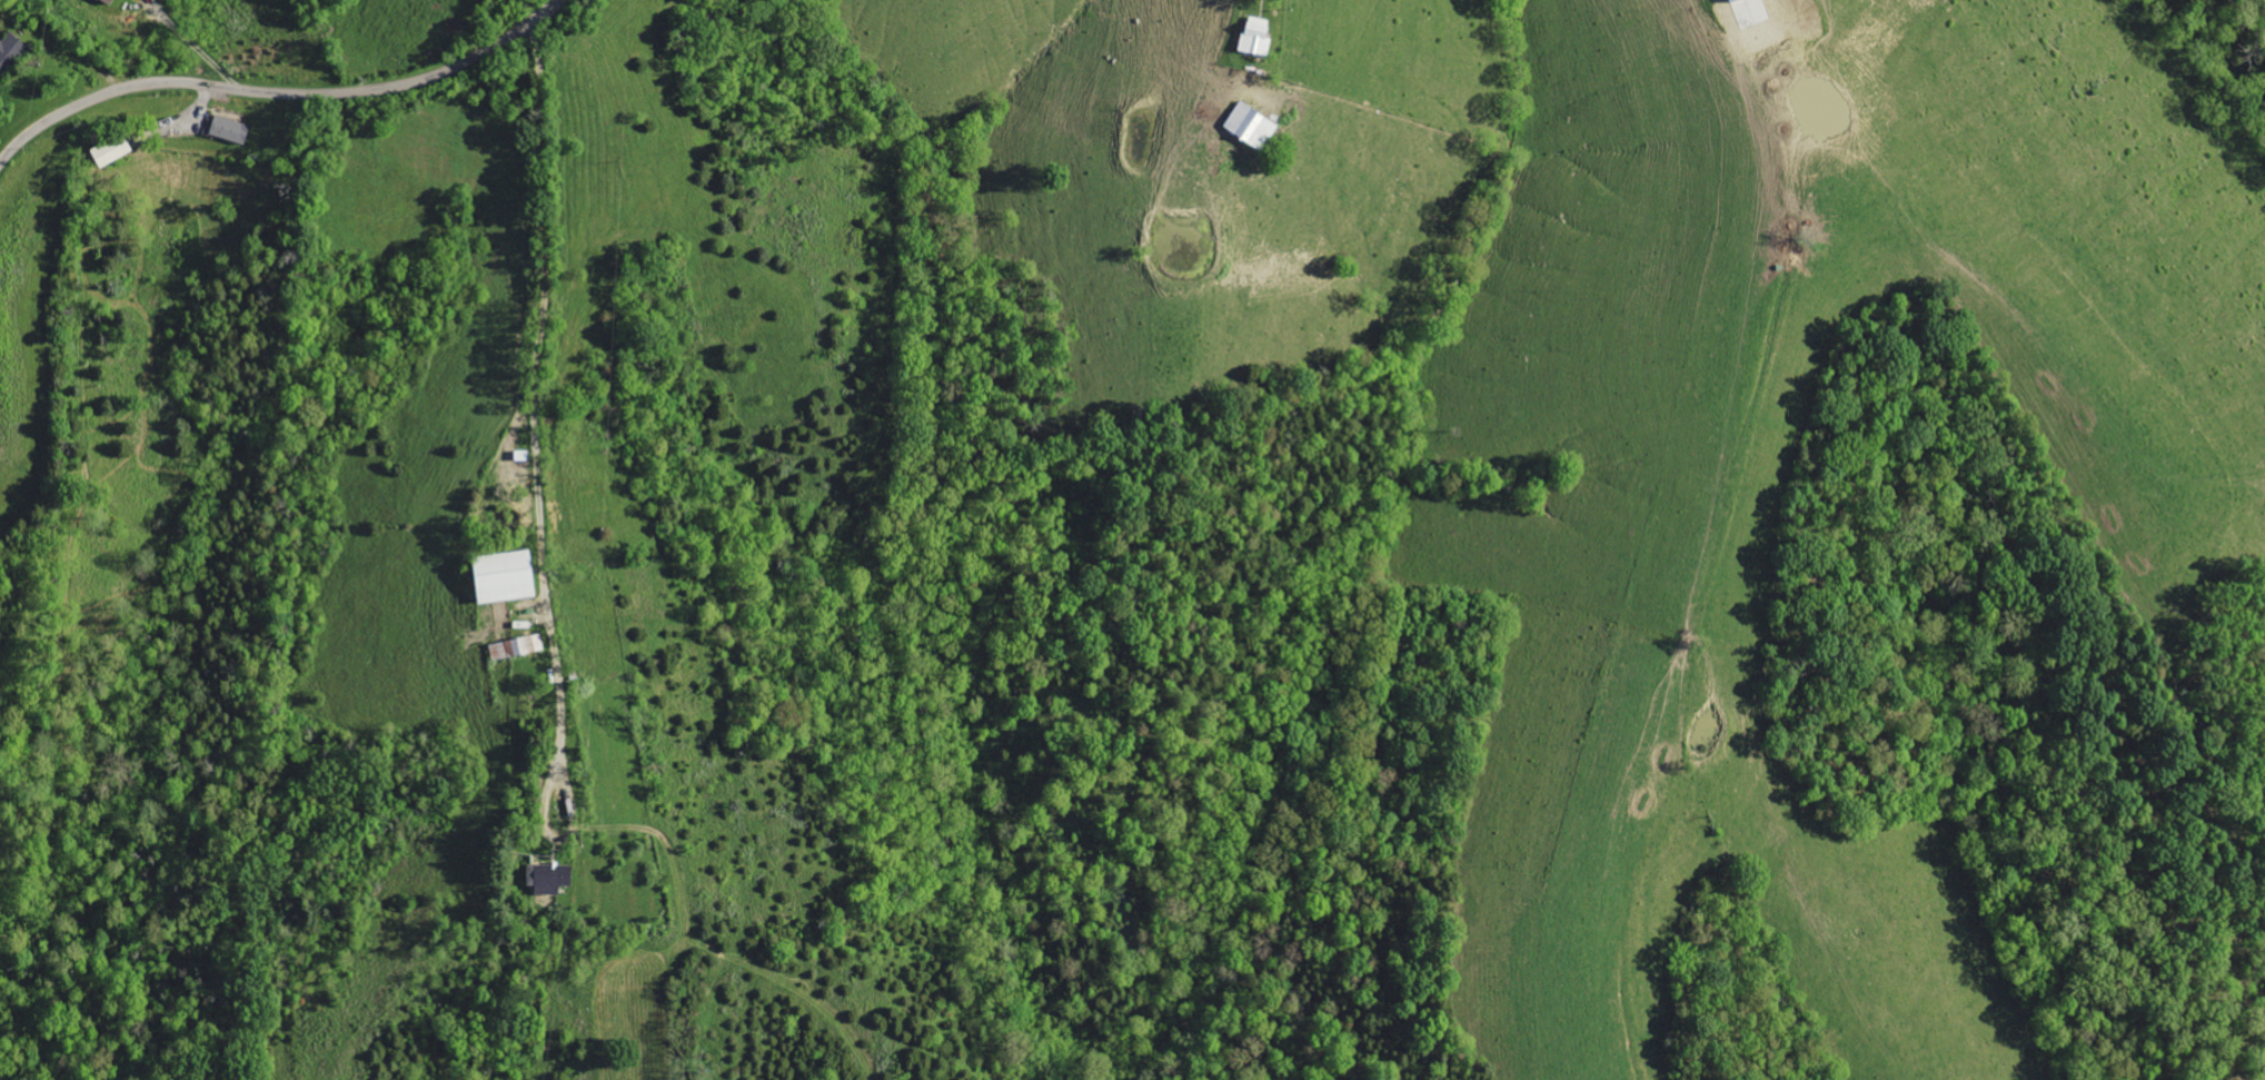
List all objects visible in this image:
building: (109, 1)
road: (1268, 13)
building: (1256, 36)
building: (10, 52)
road: (278, 91)
building: (1251, 126)
building: (229, 129)
building: (112, 151)
road: (548, 358)
road: (1675, 538)
building: (505, 575)
building: (516, 646)
building: (550, 876)

